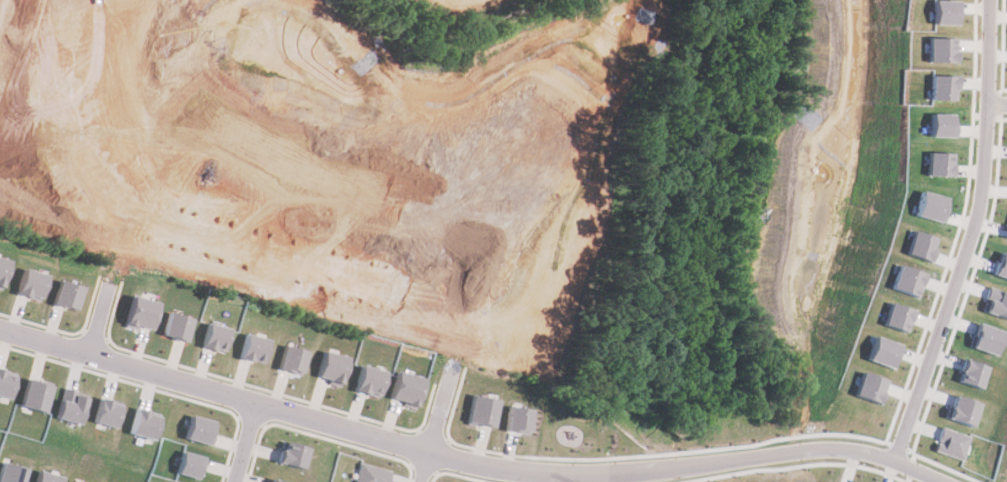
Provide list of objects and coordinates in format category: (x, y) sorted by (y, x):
building: (941, 11)
building: (936, 49)
building: (939, 87)
road: (999, 104)
building: (937, 124)
road: (500, 130)
building: (937, 163)
road: (225, 186)
building: (928, 205)
road: (975, 235)
building: (917, 244)
road: (117, 260)
building: (1003, 265)
building: (2, 268)
building: (905, 280)
building: (29, 283)
building: (66, 294)
building: (997, 301)
building: (140, 312)
building: (895, 316)
building: (176, 326)
building: (215, 337)
building: (991, 338)
building: (253, 348)
building: (881, 351)
building: (292, 359)
building: (331, 367)
road: (450, 371)
building: (976, 373)
building: (369, 380)
building: (5, 382)
building: (868, 387)
building: (406, 388)
building: (34, 395)
building: (70, 405)
building: (482, 409)
building: (967, 410)
building: (105, 412)
building: (517, 419)
building: (142, 423)
building: (199, 429)
building: (955, 442)
road: (245, 443)
building: (290, 454)
building: (189, 464)
road: (473, 466)
building: (12, 472)
building: (371, 473)
building: (48, 477)
building: (276, 480)
building: (77, 481)
building: (825, 481)

